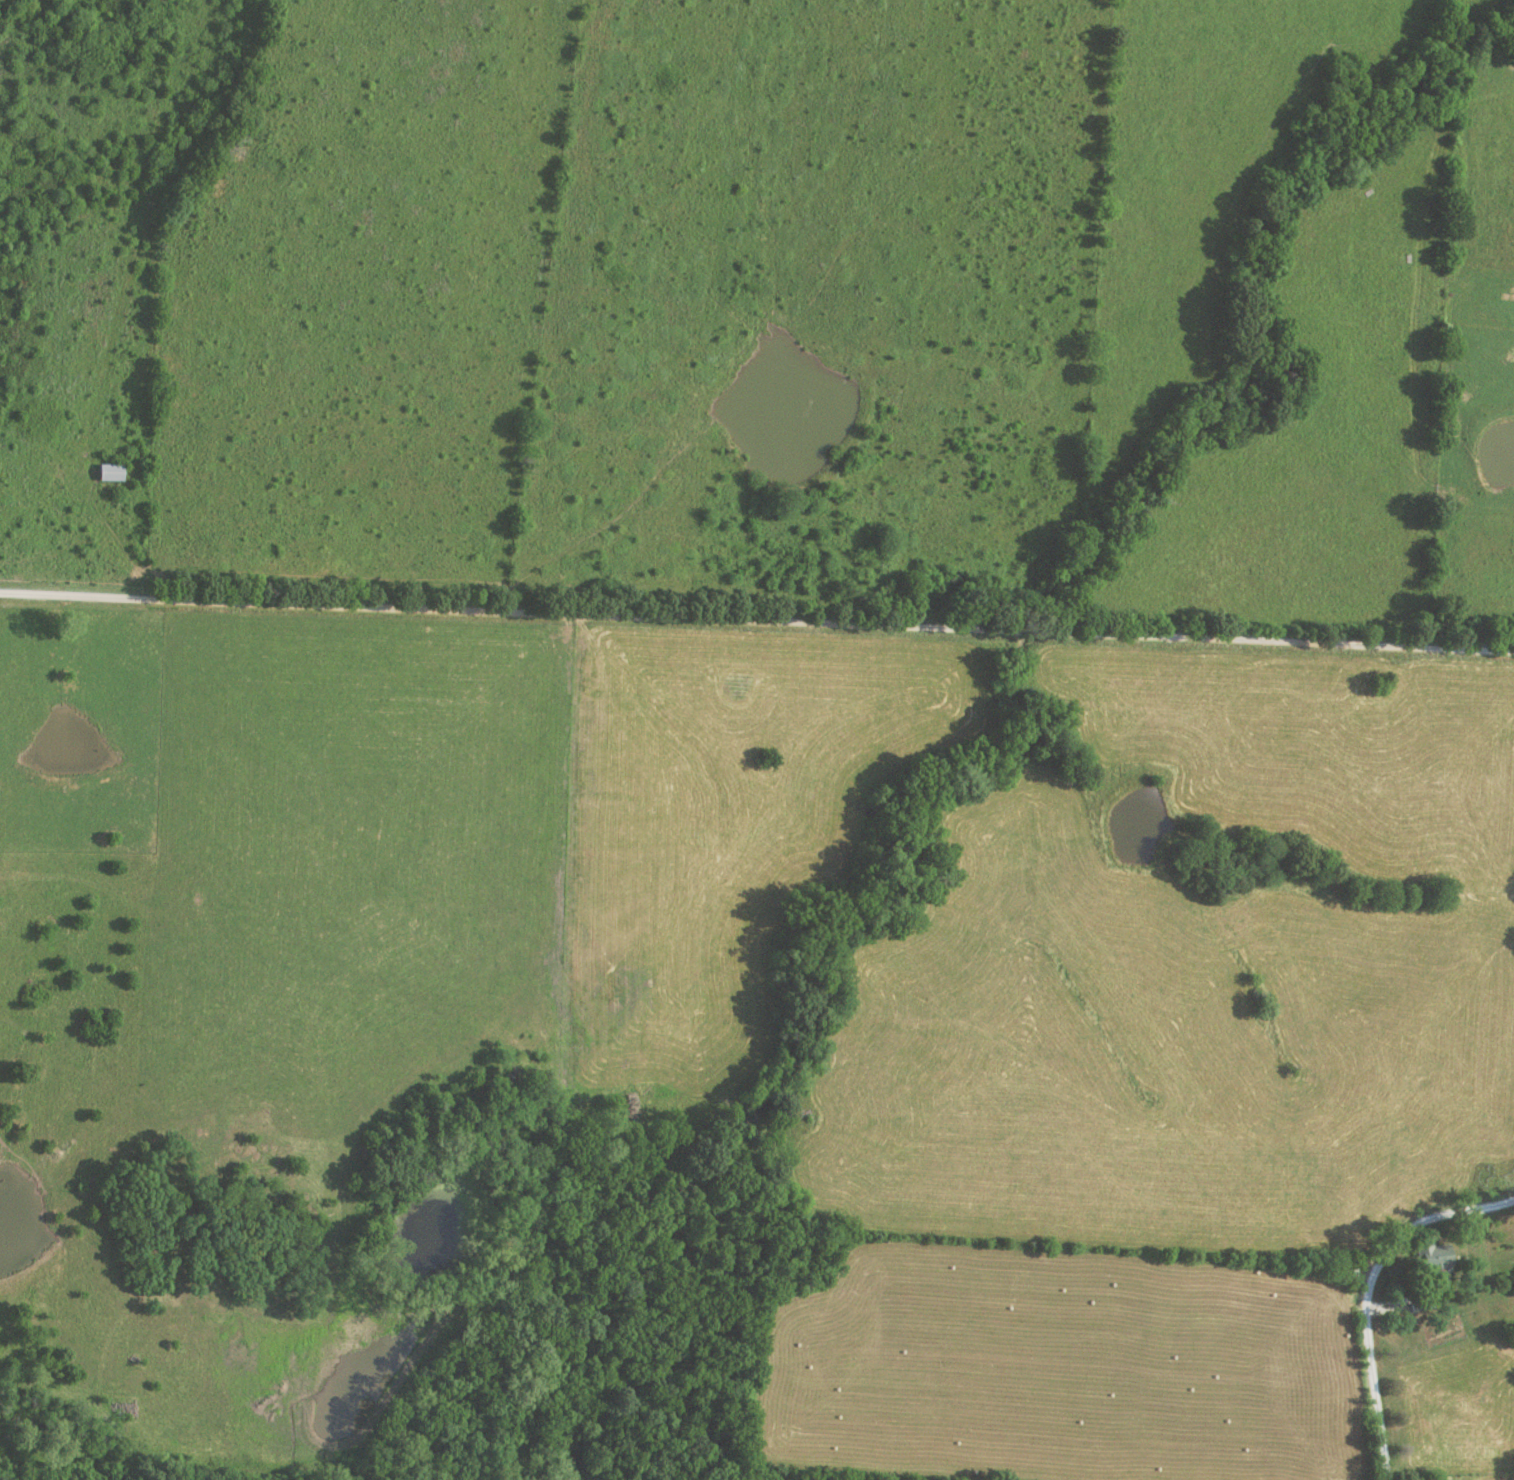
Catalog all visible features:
building: (112, 472)
road: (756, 624)
building: (1435, 1258)
road: (1360, 1287)

